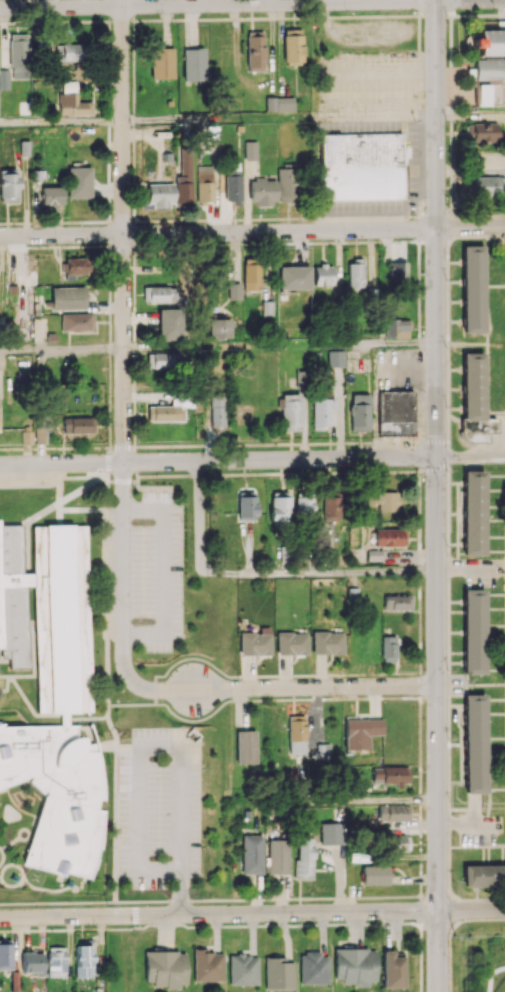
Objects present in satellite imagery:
road: (217, 4)
building: (489, 42)
building: (292, 46)
building: (79, 51)
building: (254, 51)
building: (19, 55)
building: (161, 63)
building: (193, 64)
building: (489, 69)
building: (4, 79)
building: (489, 94)
building: (73, 101)
building: (279, 104)
road: (279, 118)
road: (61, 120)
building: (480, 132)
building: (250, 150)
building: (360, 166)
building: (184, 179)
building: (78, 182)
building: (204, 183)
building: (8, 185)
building: (286, 185)
building: (233, 186)
building: (488, 186)
building: (262, 191)
building: (159, 195)
building: (51, 196)
road: (252, 231)
road: (122, 232)
building: (73, 267)
building: (397, 271)
building: (251, 273)
building: (355, 273)
building: (323, 274)
building: (293, 277)
building: (472, 289)
building: (234, 291)
building: (162, 294)
building: (67, 297)
building: (76, 321)
building: (168, 324)
building: (220, 328)
building: (396, 328)
road: (279, 346)
road: (61, 349)
building: (335, 358)
building: (163, 360)
building: (474, 399)
building: (216, 411)
building: (321, 411)
building: (164, 412)
building: (290, 412)
building: (359, 412)
building: (395, 412)
building: (77, 425)
building: (26, 437)
road: (471, 457)
road: (218, 461)
road: (437, 495)
building: (382, 500)
building: (245, 505)
building: (302, 505)
building: (278, 506)
building: (329, 508)
building: (473, 512)
building: (390, 537)
road: (267, 571)
road: (162, 574)
road: (118, 584)
building: (396, 602)
building: (473, 631)
building: (327, 642)
building: (254, 643)
building: (291, 643)
building: (387, 648)
road: (314, 689)
road: (171, 690)
building: (361, 732)
building: (296, 734)
building: (473, 743)
road: (164, 746)
building: (245, 747)
building: (323, 751)
building: (390, 775)
building: (393, 812)
building: (331, 833)
building: (397, 842)
building: (252, 854)
building: (277, 856)
building: (304, 858)
building: (374, 875)
building: (484, 875)
road: (252, 913)
building: (5, 954)
park: (476, 955)
building: (55, 961)
building: (83, 961)
building: (32, 962)
building: (207, 965)
building: (355, 965)
building: (165, 968)
building: (313, 968)
building: (242, 969)
building: (392, 970)
building: (277, 973)

